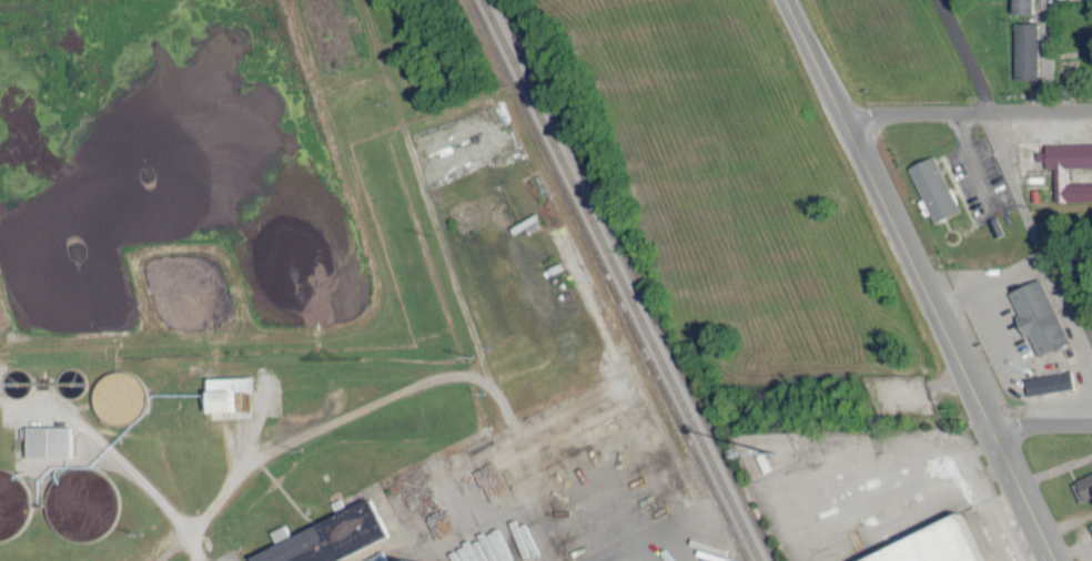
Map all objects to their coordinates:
building: (1021, 7)
building: (1024, 50)
road: (1048, 54)
road: (968, 109)
building: (1059, 174)
road: (1012, 181)
building: (932, 187)
road: (889, 212)
railway: (624, 279)
railway: (608, 280)
building: (1037, 315)
building: (1048, 380)
building: (223, 389)
road: (1043, 424)
building: (46, 440)
building: (1082, 486)
road: (1028, 492)
building: (1090, 524)
building: (325, 535)
building: (536, 548)
building: (421, 559)
building: (393, 560)

